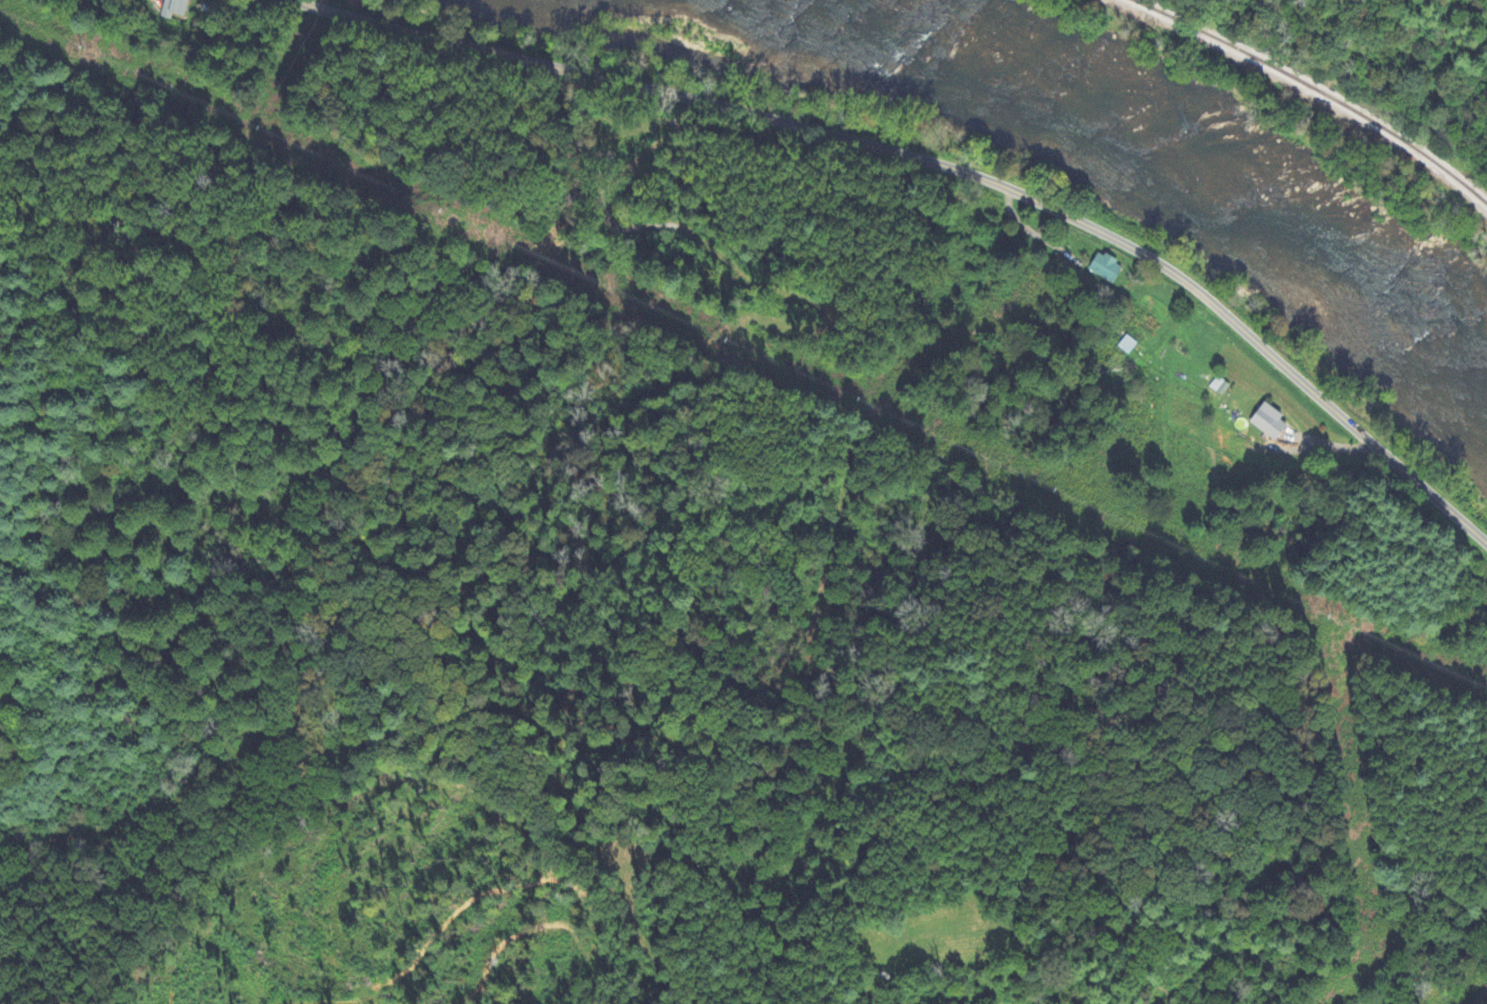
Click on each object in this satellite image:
railway: (1315, 89)
river: (1113, 124)
road: (942, 166)
building: (1104, 270)
building: (1138, 333)

